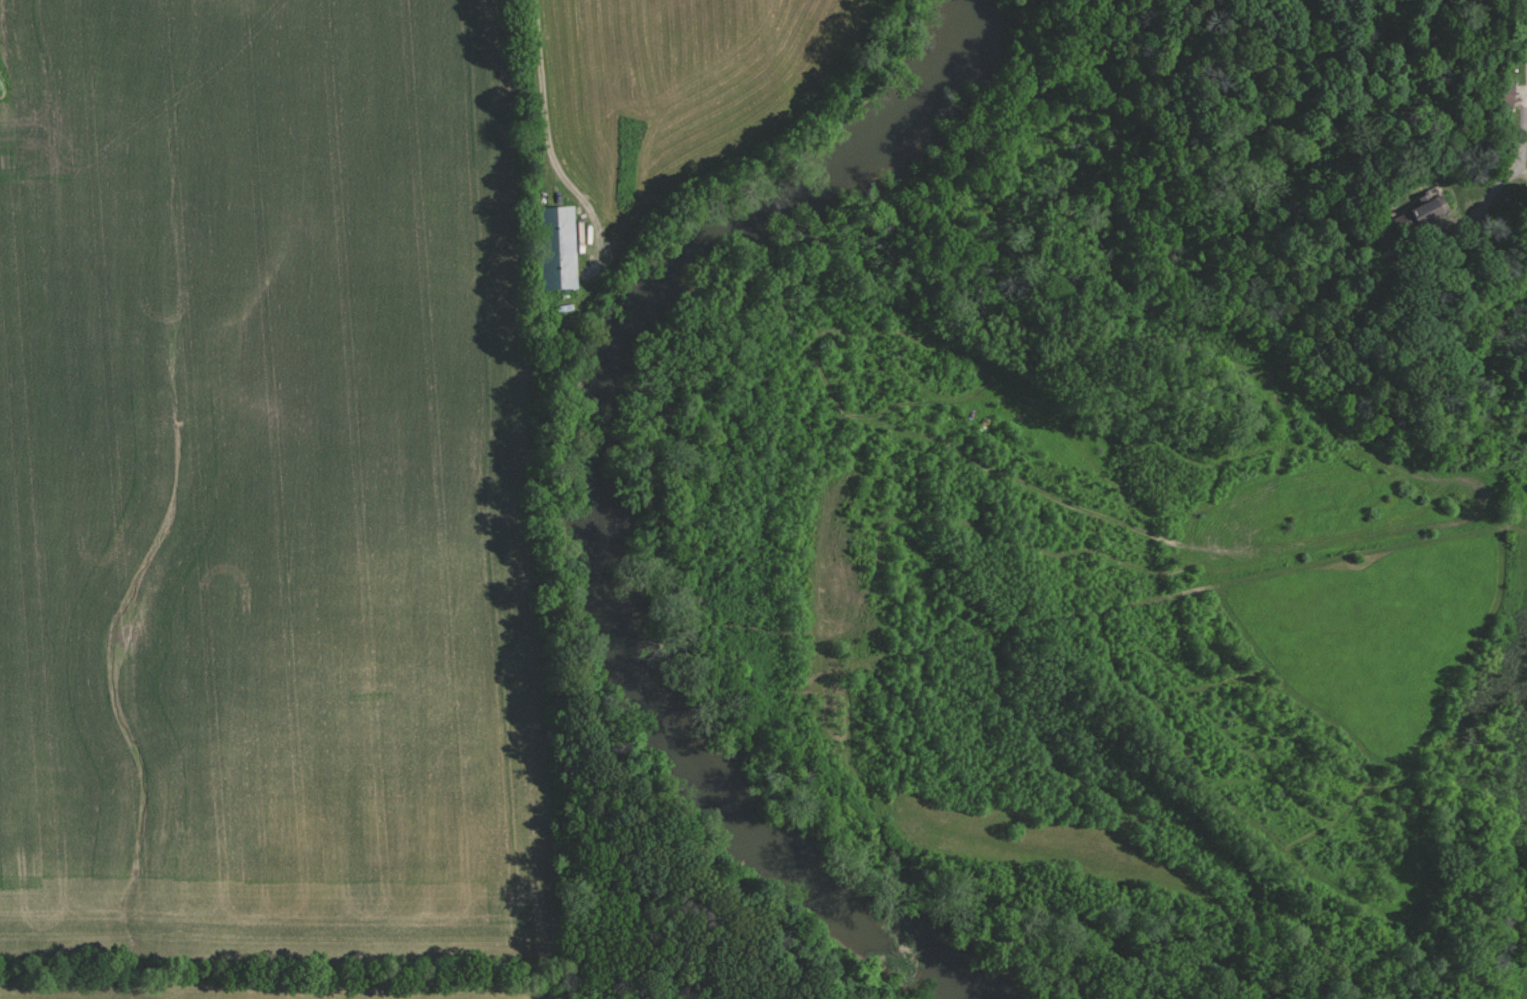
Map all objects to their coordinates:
road: (541, 99)
road: (1516, 167)
building: (1432, 210)
building: (564, 246)
river: (616, 491)

